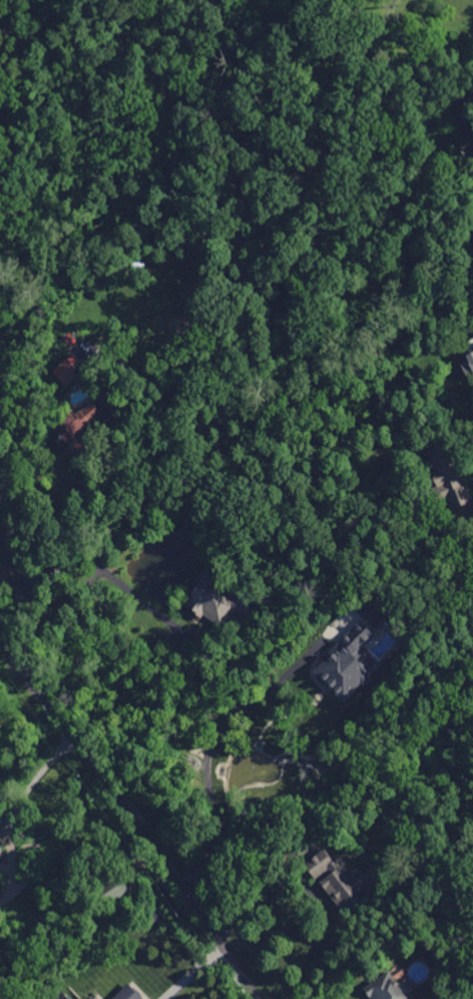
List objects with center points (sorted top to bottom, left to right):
building: (470, 356)
building: (66, 368)
building: (81, 427)
building: (447, 474)
road: (88, 582)
building: (210, 602)
road: (146, 603)
building: (348, 663)
road: (219, 731)
road: (131, 816)
road: (17, 820)
building: (0, 846)
building: (117, 891)
road: (314, 892)
road: (193, 972)
building: (390, 987)
building: (128, 993)
building: (64, 996)

